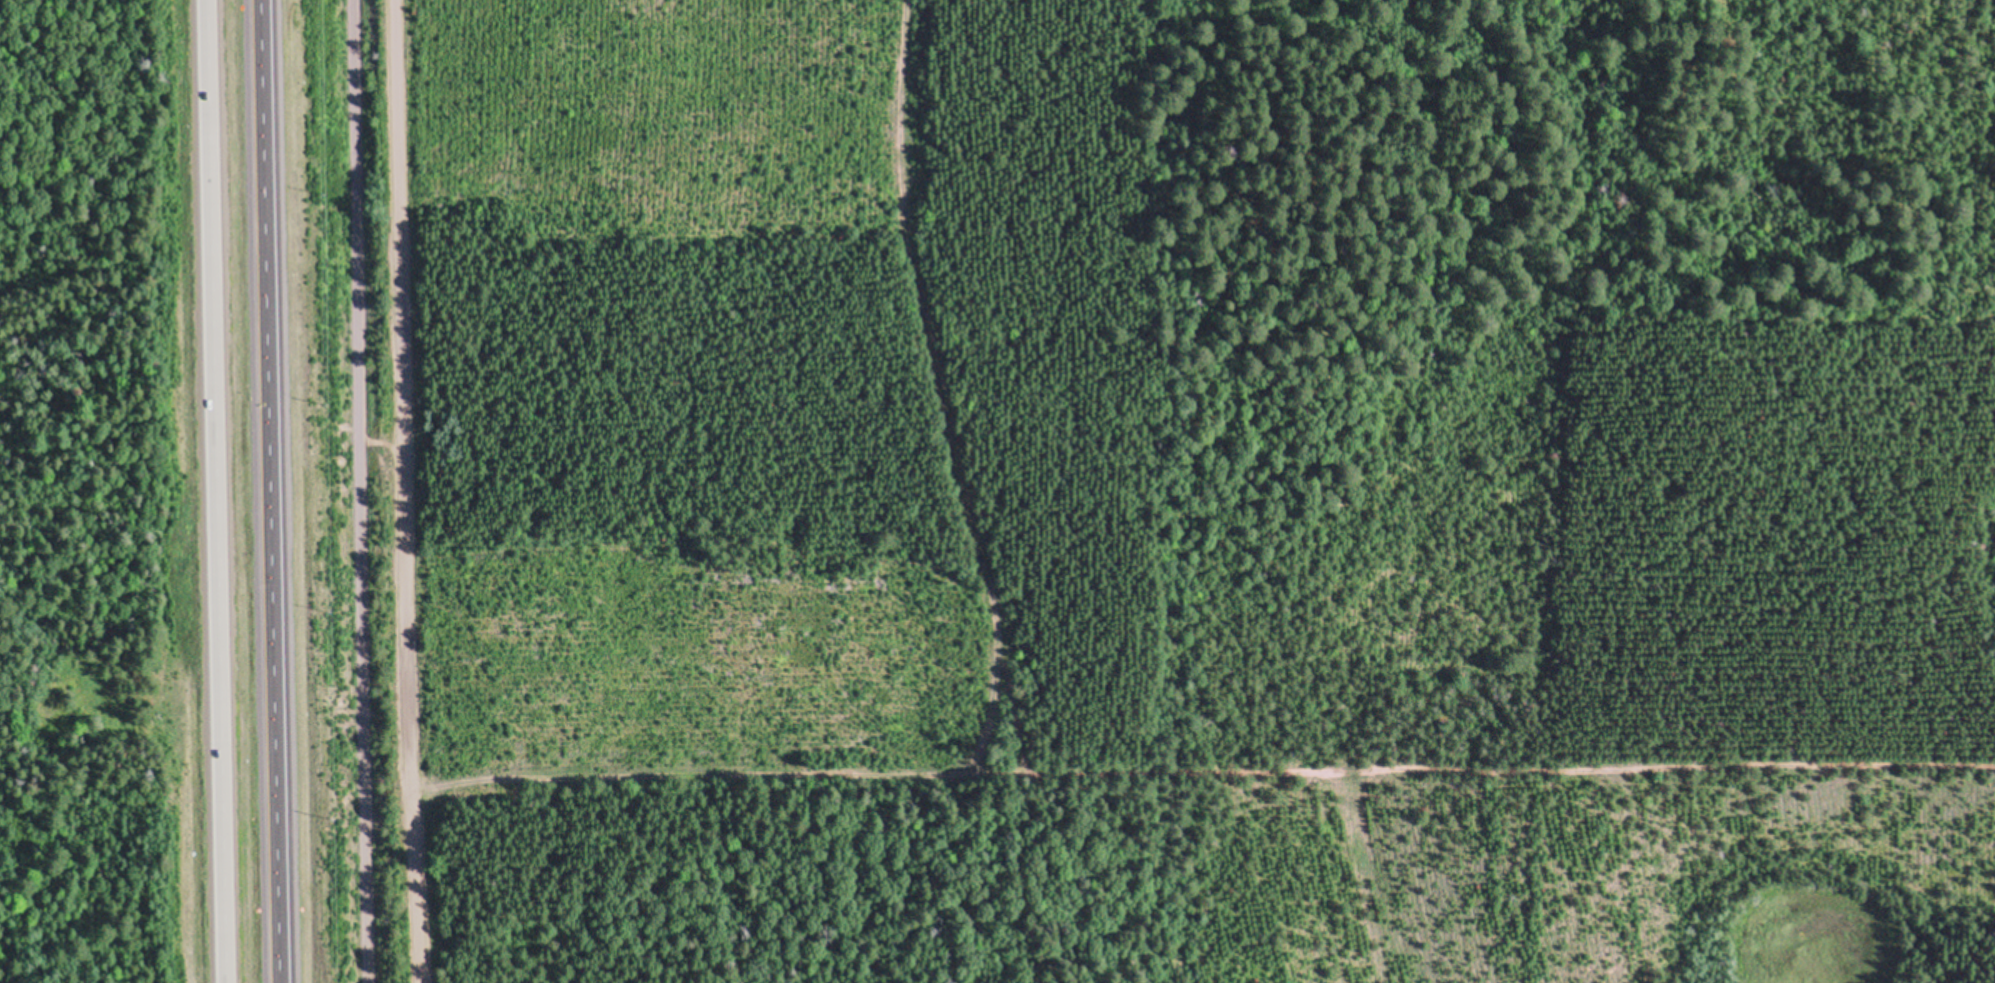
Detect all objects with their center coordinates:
road: (214, 491)
road: (268, 491)
road: (355, 491)
road: (401, 491)
road: (1201, 774)

